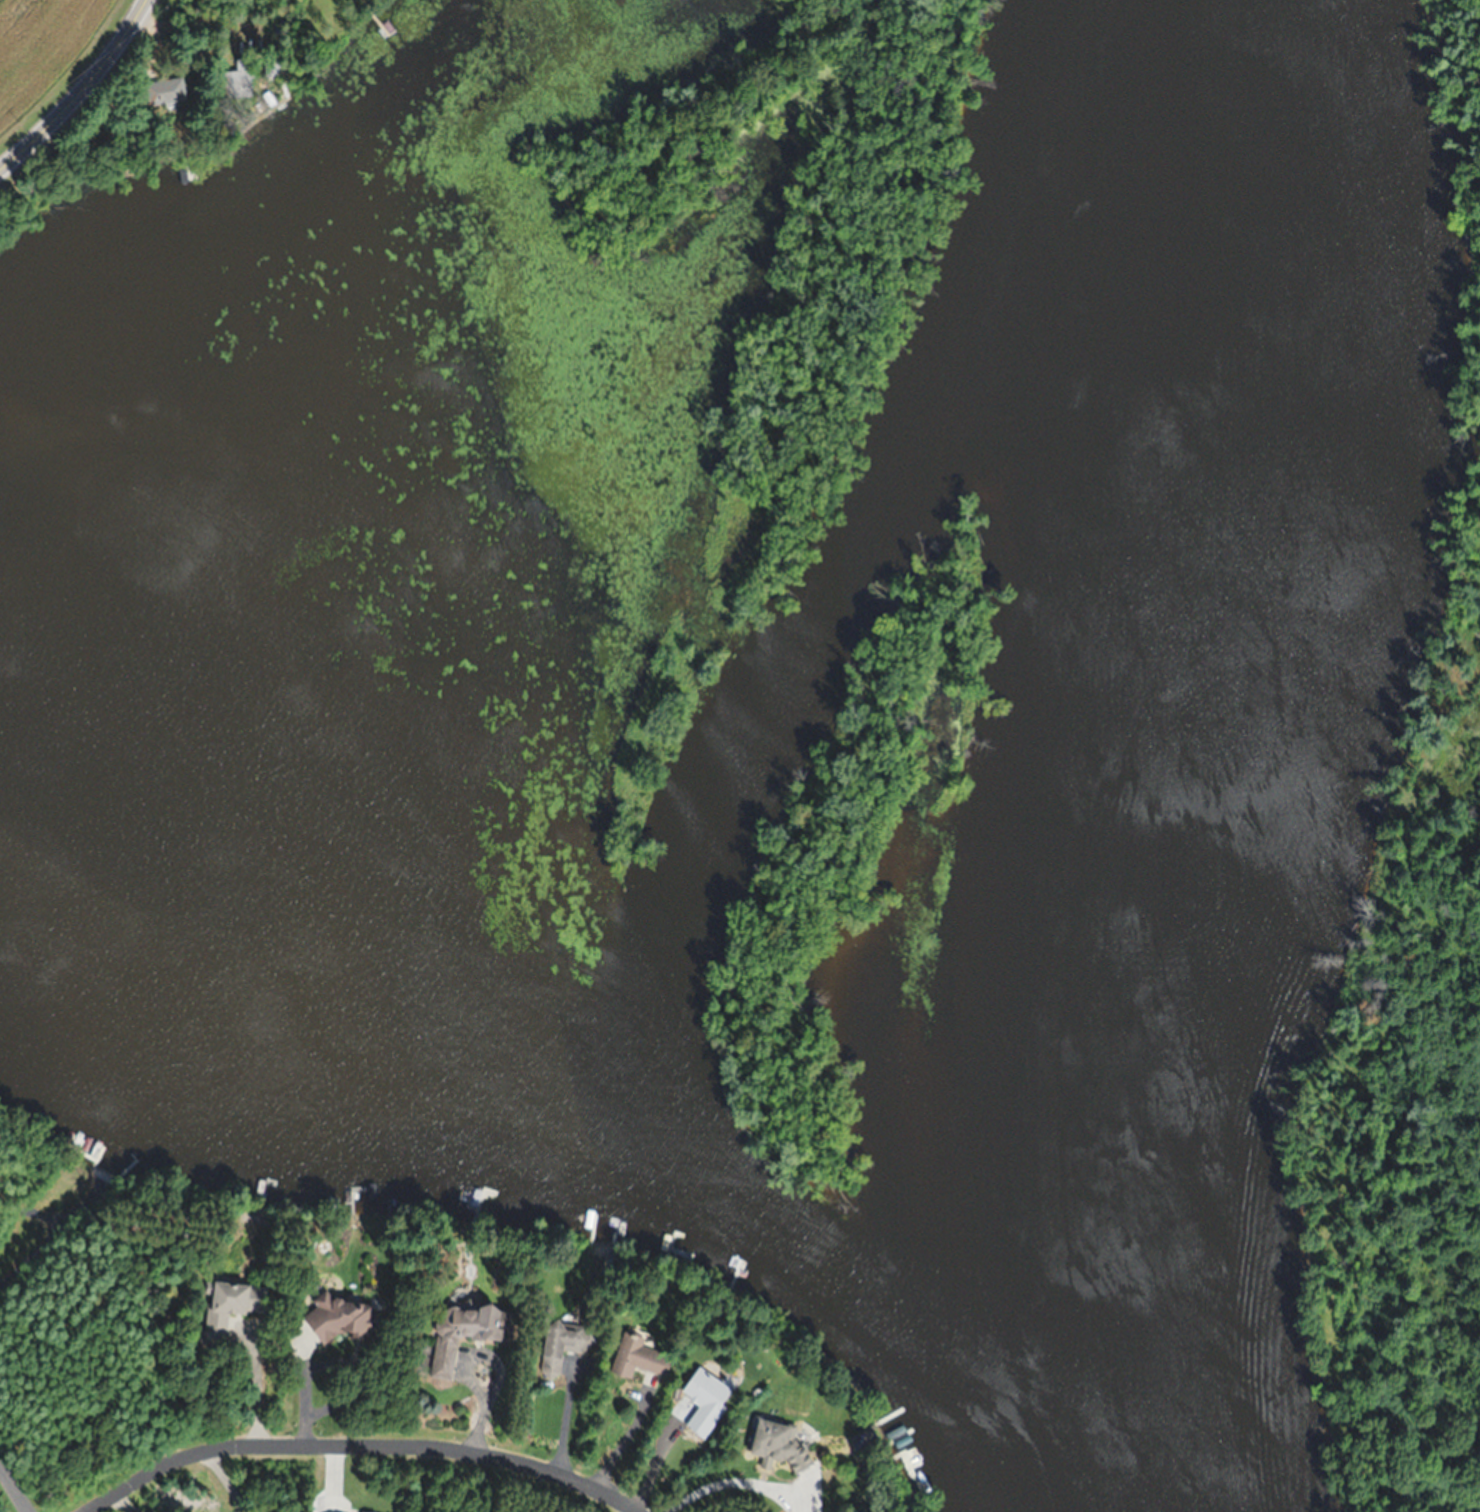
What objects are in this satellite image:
building: (240, 72)
road: (82, 90)
building: (166, 90)
river: (1178, 760)
building: (230, 1305)
building: (340, 1317)
building: (466, 1332)
building: (566, 1339)
building: (639, 1356)
building: (779, 1443)
road: (356, 1446)
road: (14, 1488)

